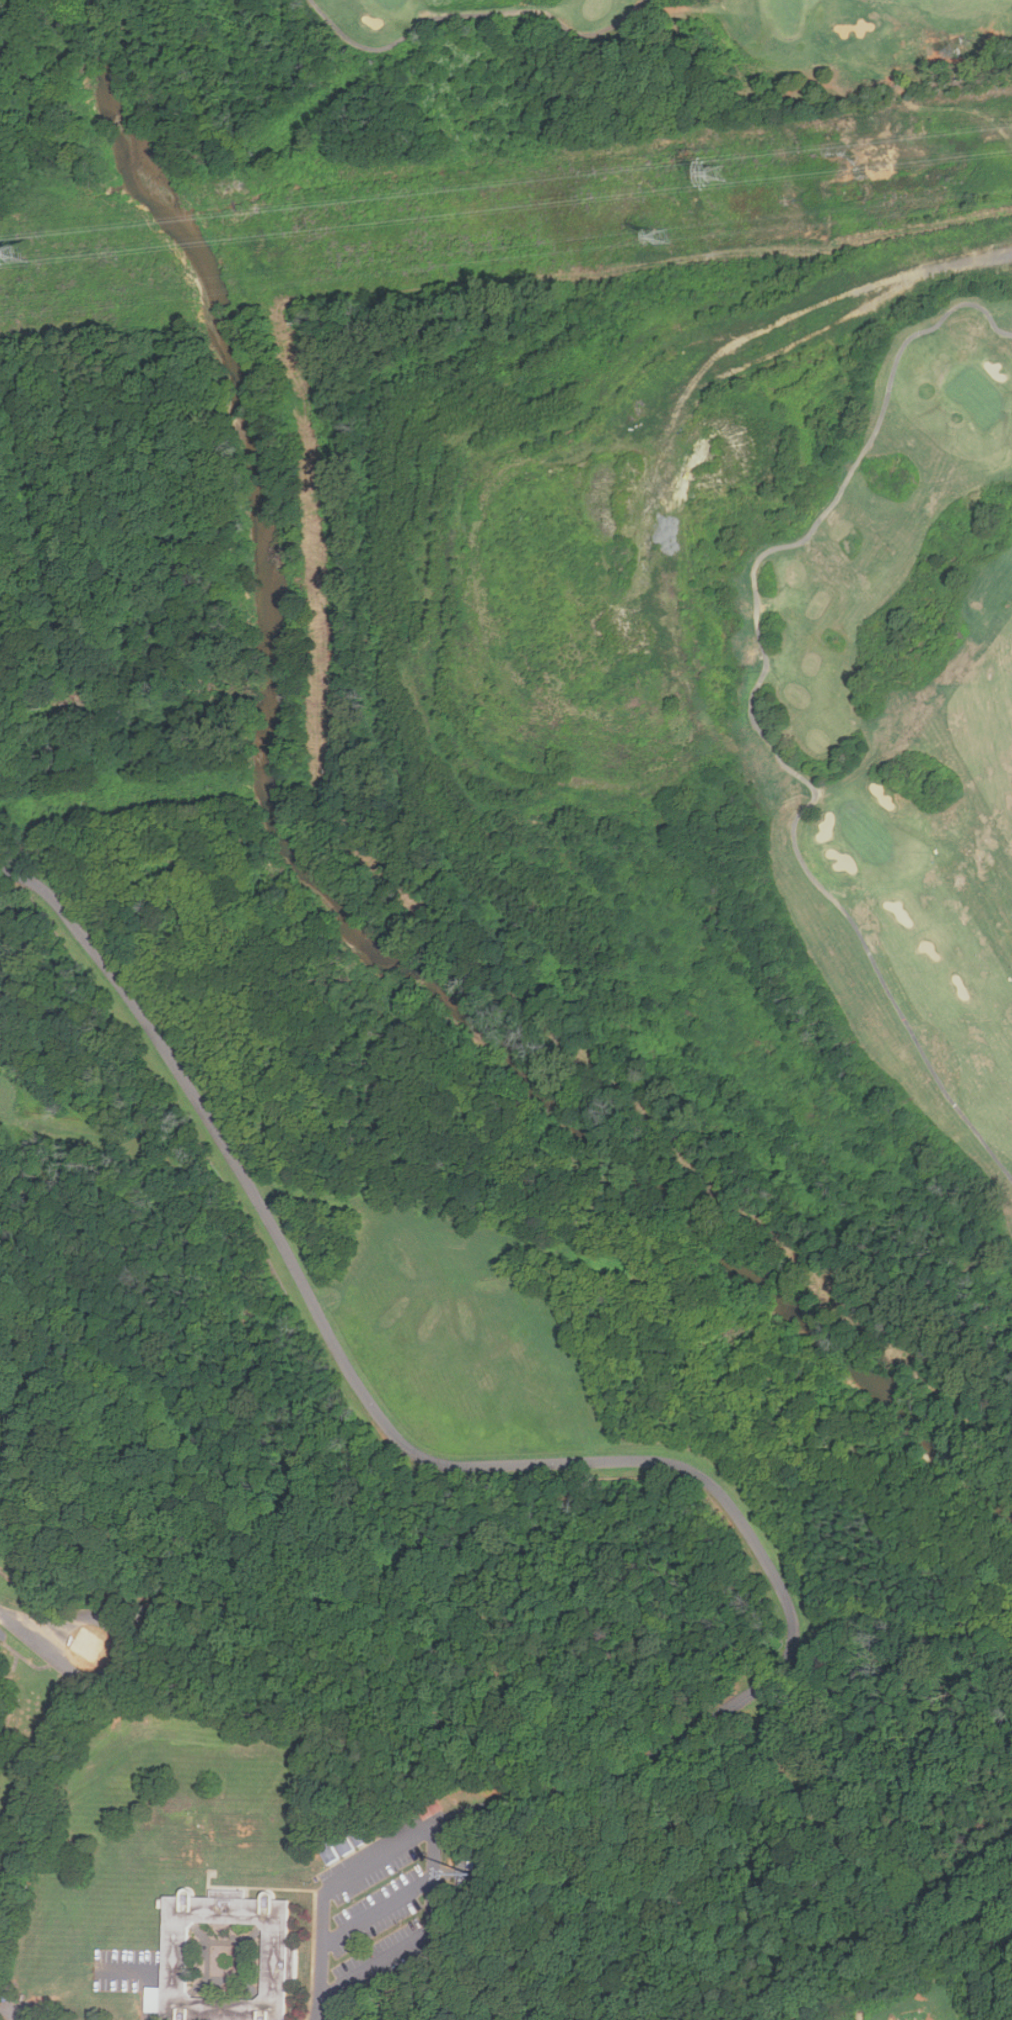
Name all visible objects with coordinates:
park: (387, 1)
road: (525, 3)
park: (787, 13)
road: (595, 26)
road: (411, 41)
river: (115, 100)
road: (953, 118)
power tower: (716, 175)
river: (166, 204)
power tower: (657, 239)
power tower: (20, 257)
river: (223, 307)
road: (767, 358)
park: (962, 399)
park: (654, 580)
road: (767, 701)
park: (849, 839)
river: (482, 1025)
road: (630, 1460)
road: (92, 1614)
road: (22, 1631)
road: (77, 1676)
building: (330, 1854)
building: (467, 1873)
road: (377, 1912)
road: (419, 1936)
building: (279, 1963)
road: (147, 1972)
park: (923, 2005)

